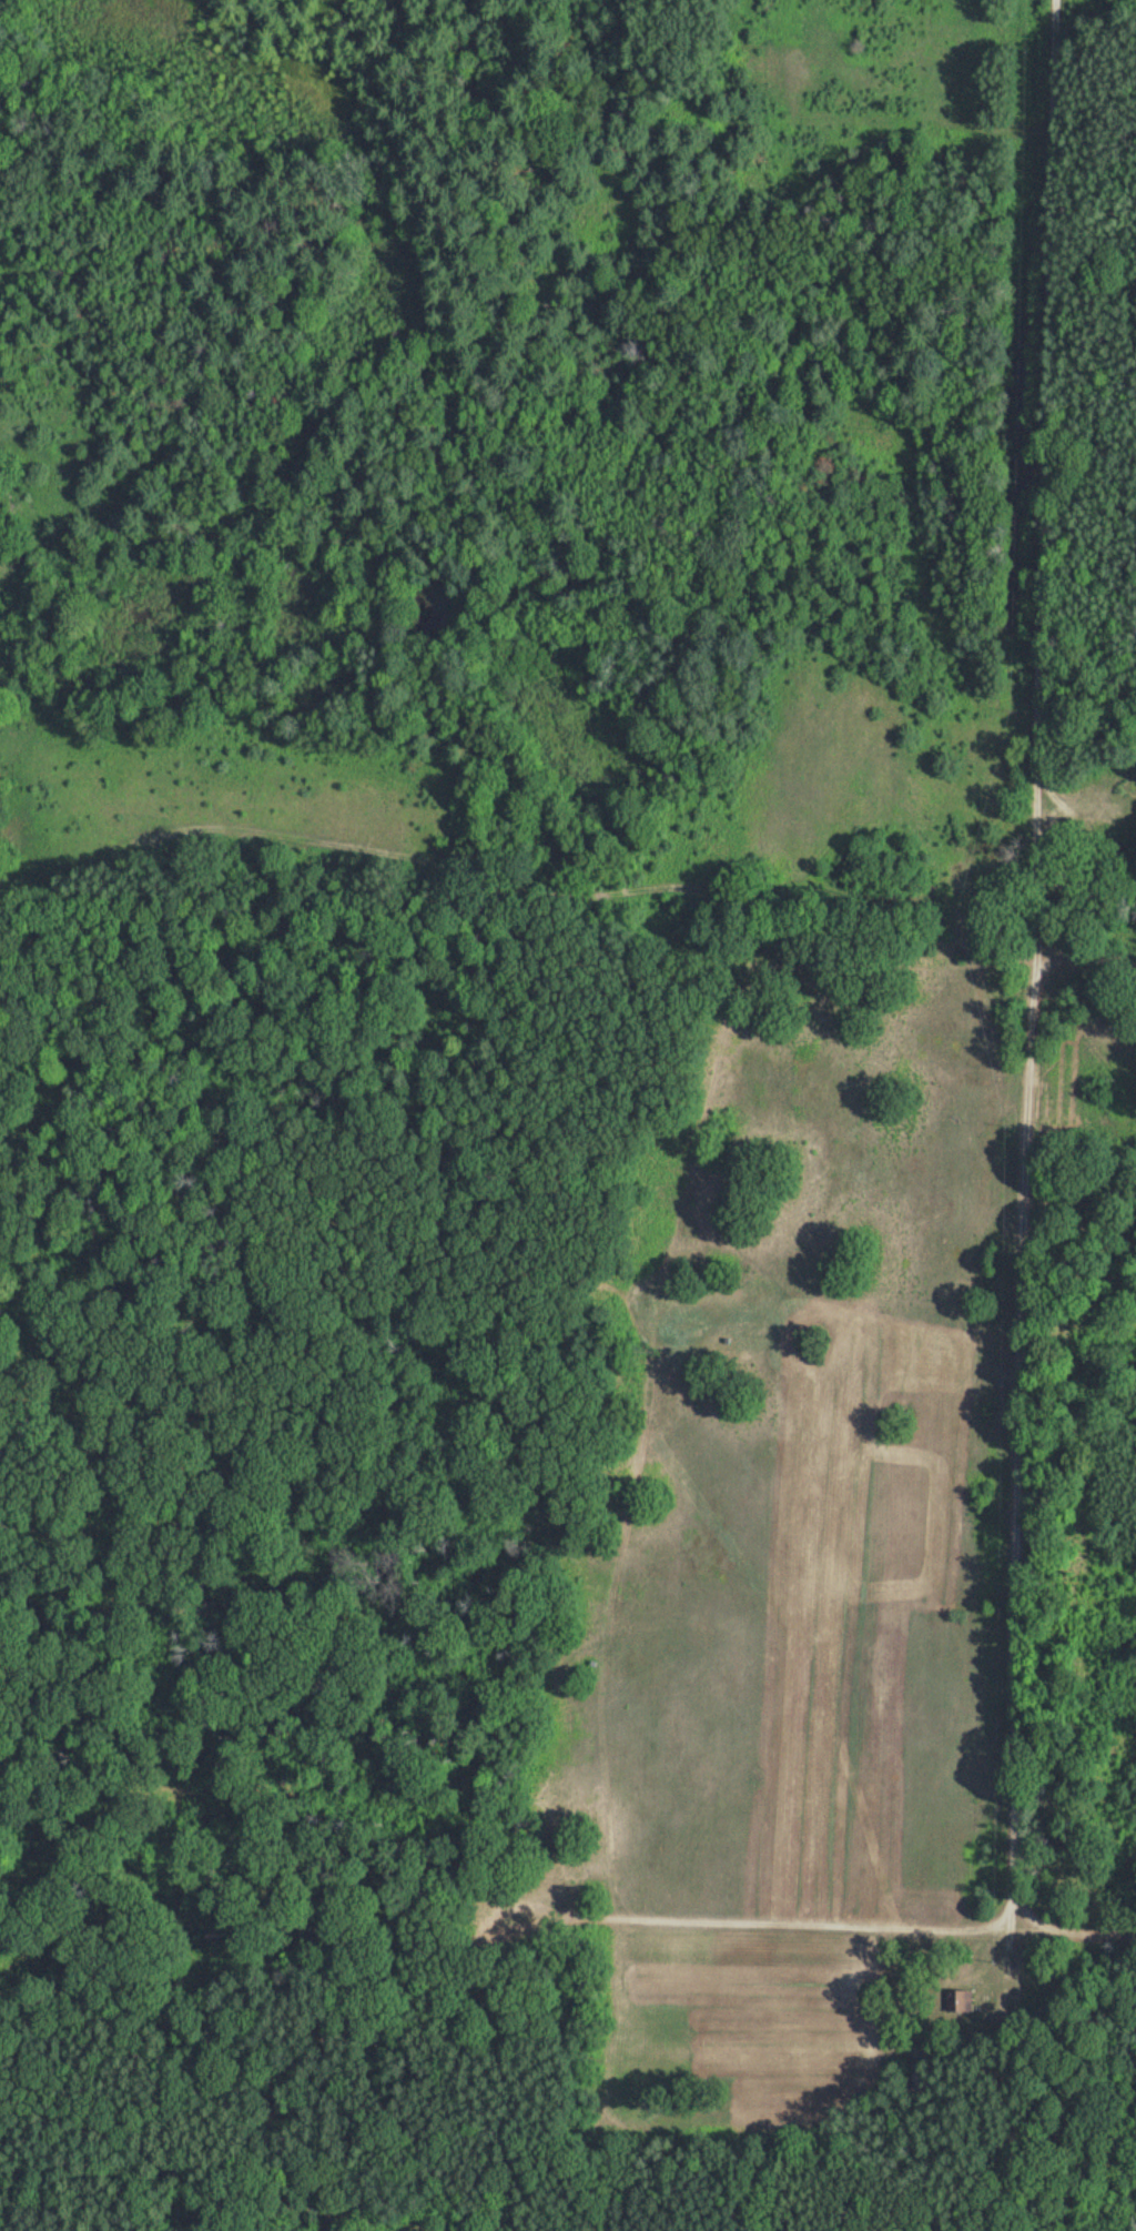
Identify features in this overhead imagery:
road: (1084, 948)
road: (1035, 959)
road: (856, 1922)
building: (960, 2003)

